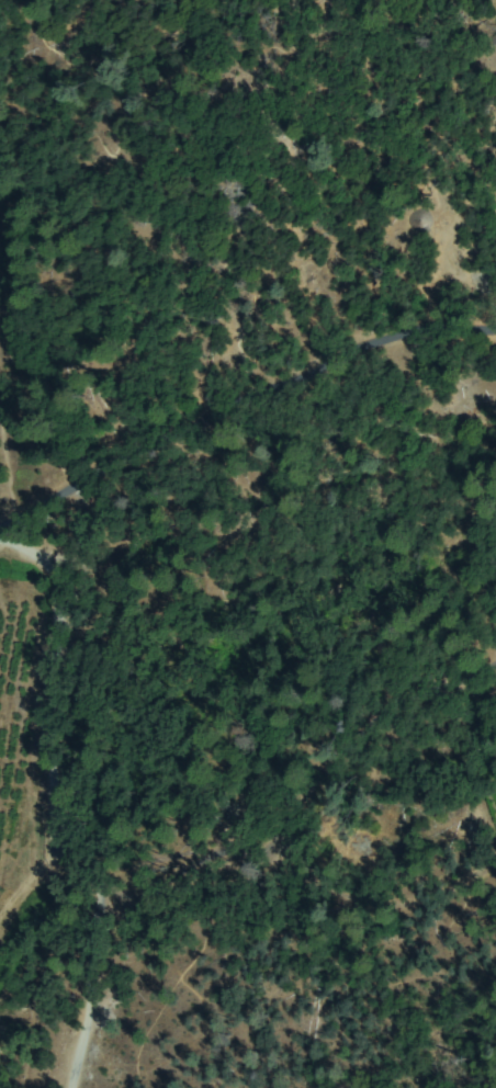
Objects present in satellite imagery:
road: (64, 811)

